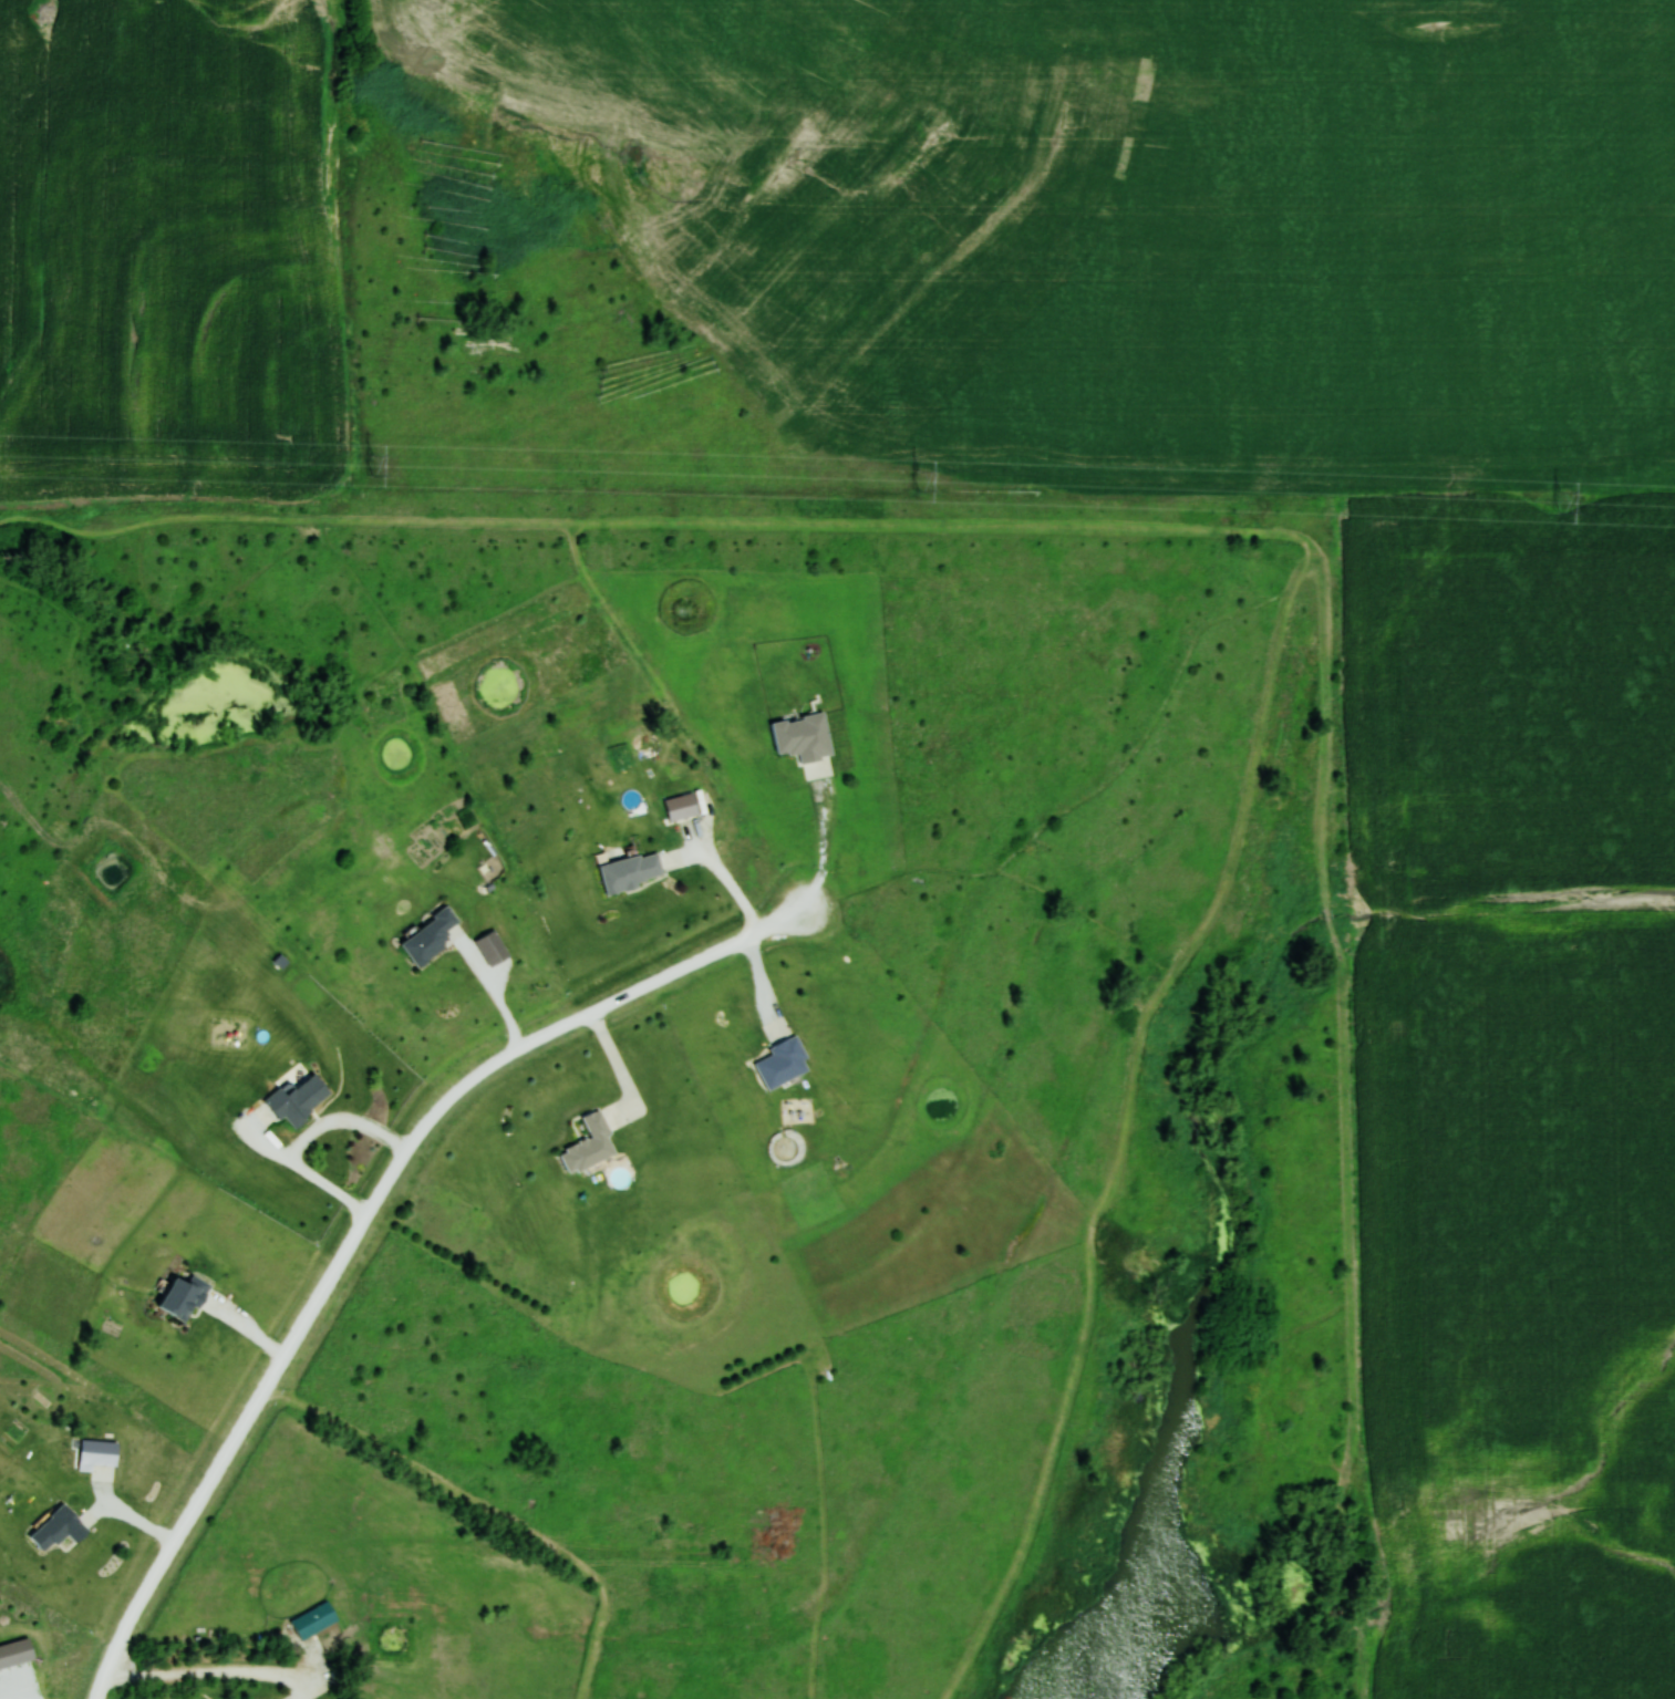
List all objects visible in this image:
power tower: (372, 466)
power tower: (922, 480)
power tower: (1562, 501)
building: (632, 871)
building: (430, 937)
building: (784, 1063)
building: (299, 1100)
building: (590, 1146)
road: (369, 1210)
building: (60, 1529)
building: (314, 1619)

